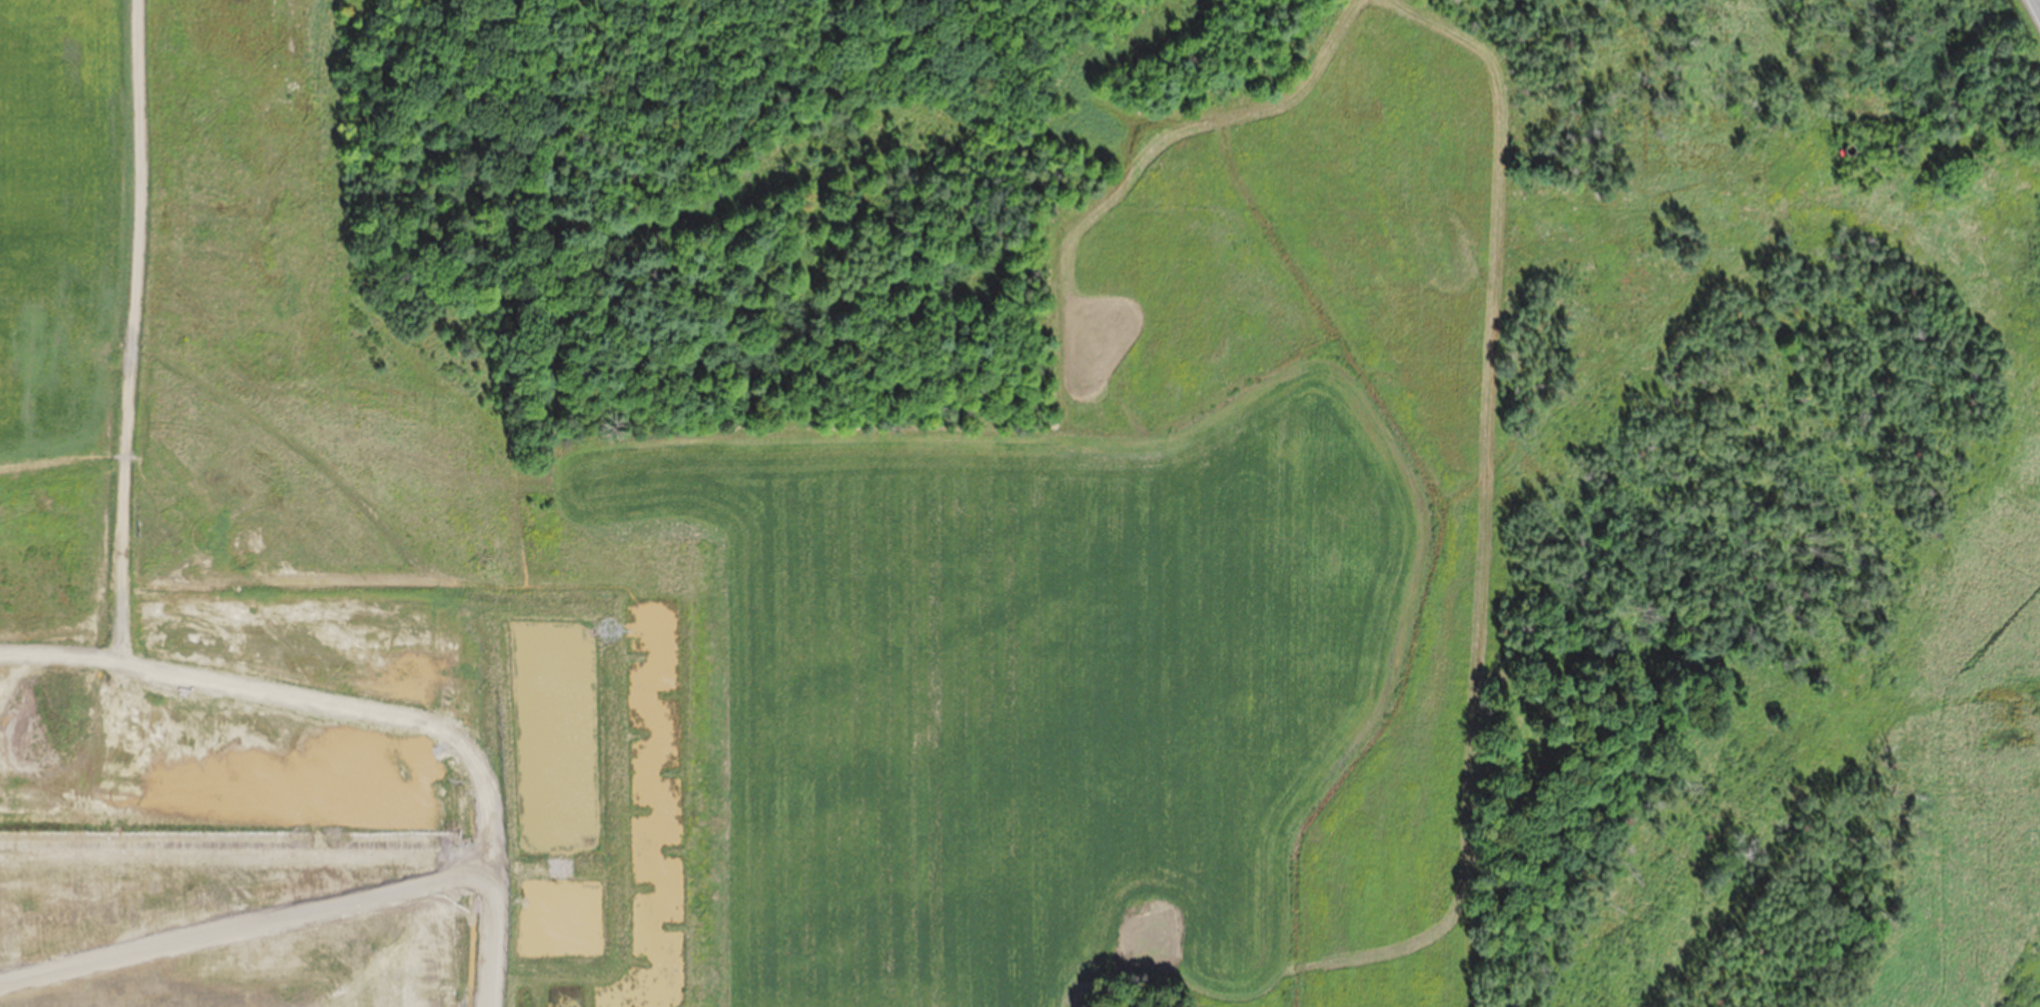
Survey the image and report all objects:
road: (2038, 2)
landfill: (860, 541)
road: (116, 643)

